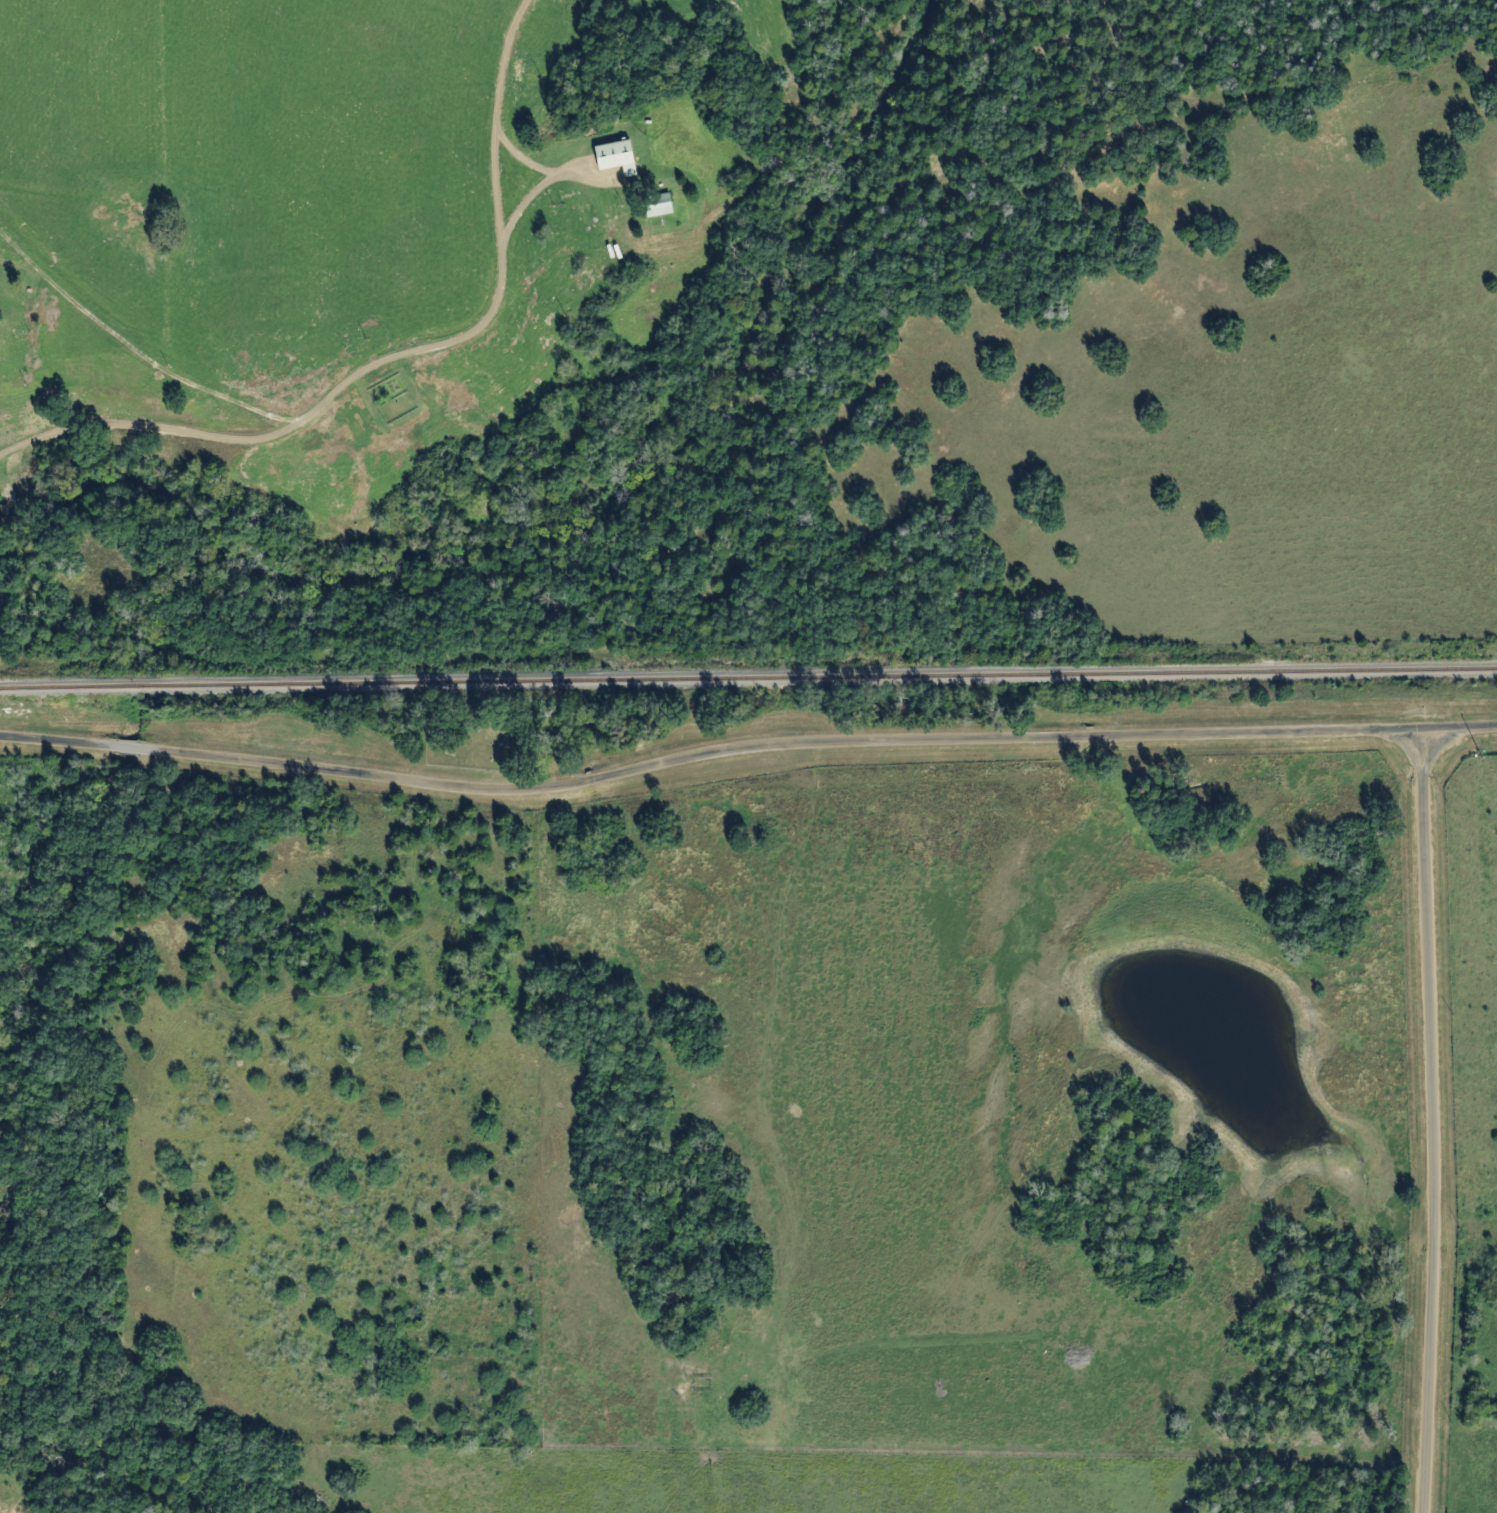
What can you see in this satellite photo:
building: (609, 157)
building: (651, 206)
road: (137, 358)
road: (392, 358)
road: (59, 582)
railway: (748, 678)
park: (483, 735)
road: (745, 747)
road: (1426, 1121)

